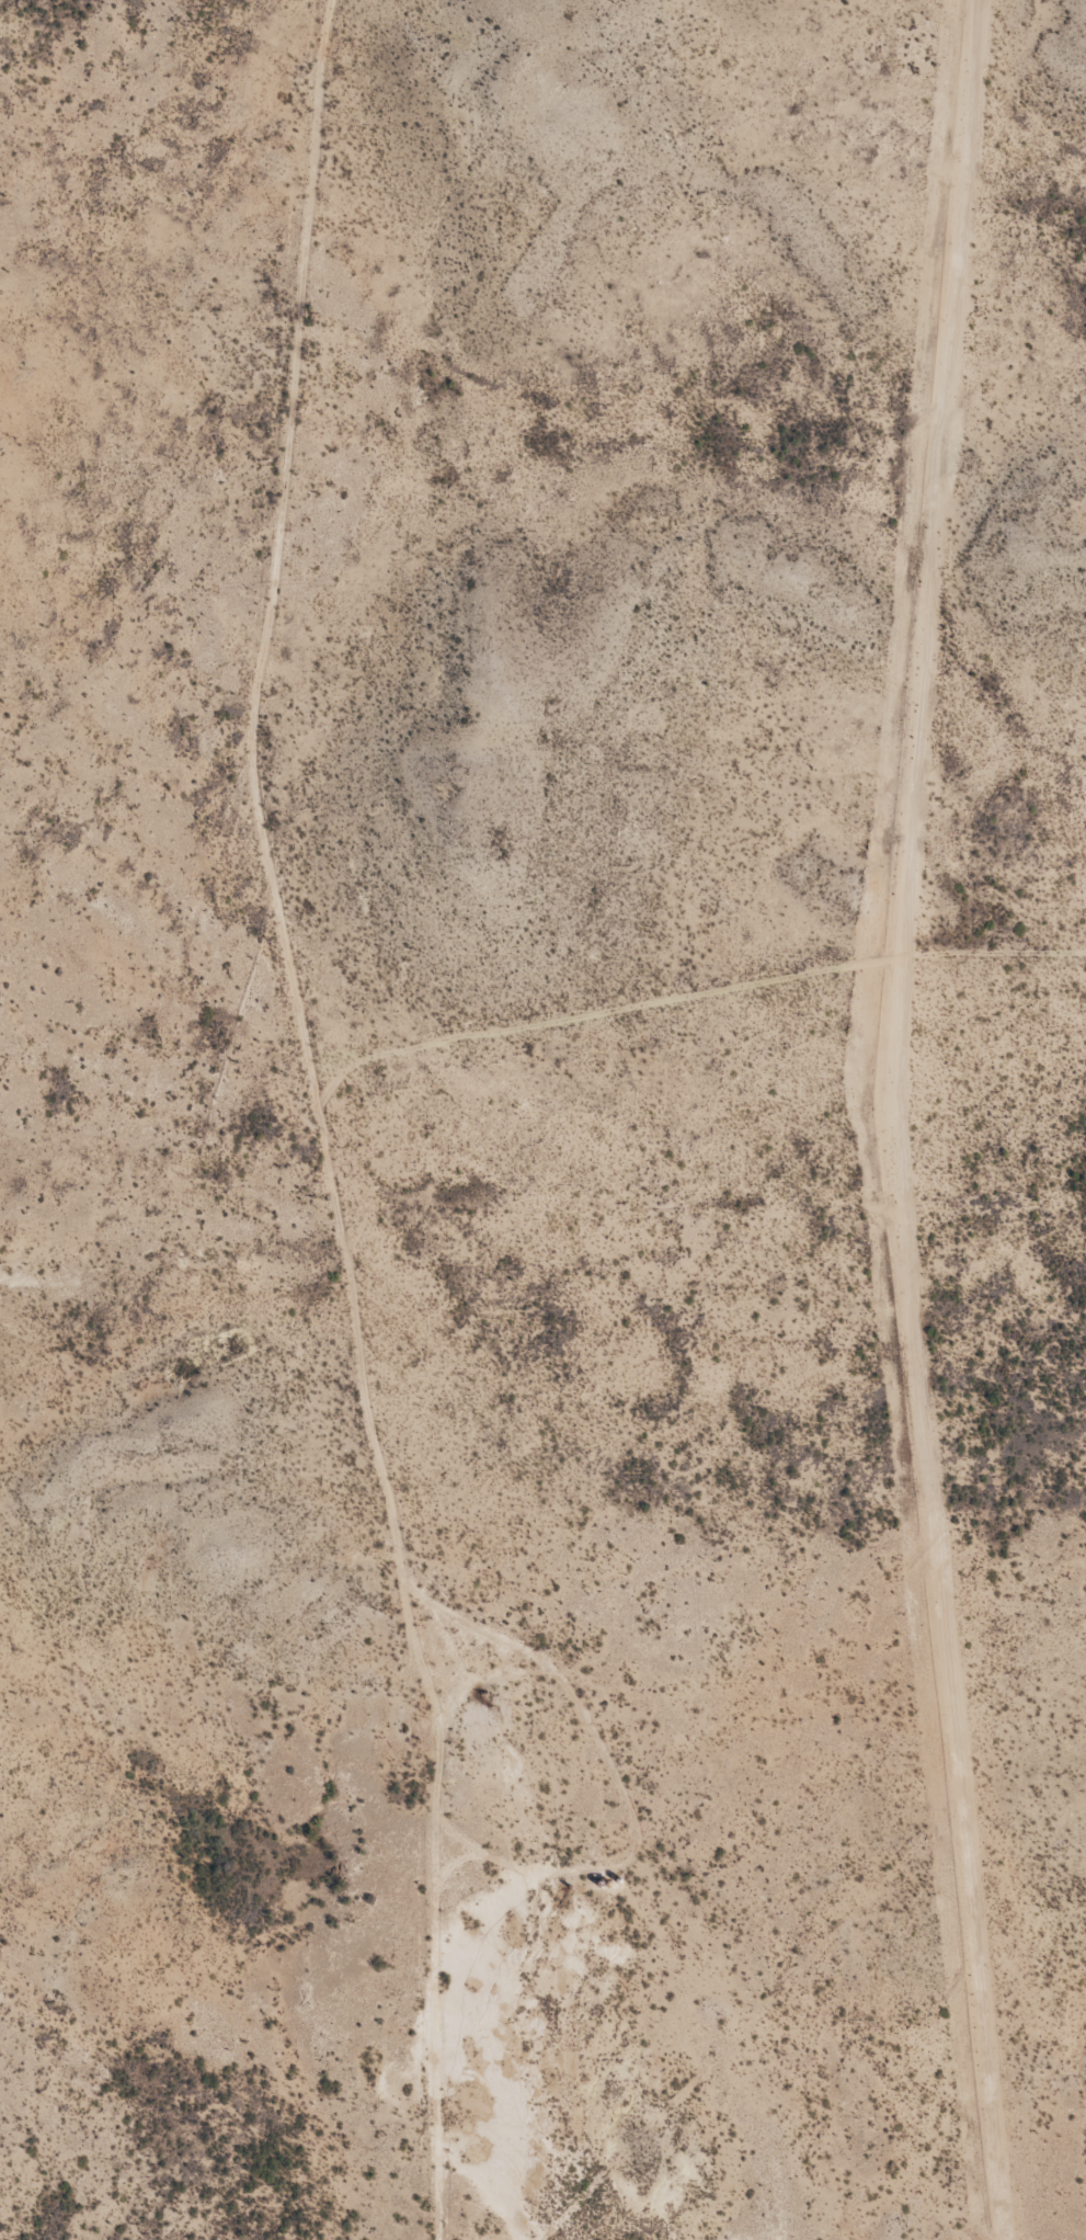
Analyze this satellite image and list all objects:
road: (679, 939)
road: (304, 1130)
road: (607, 1760)

